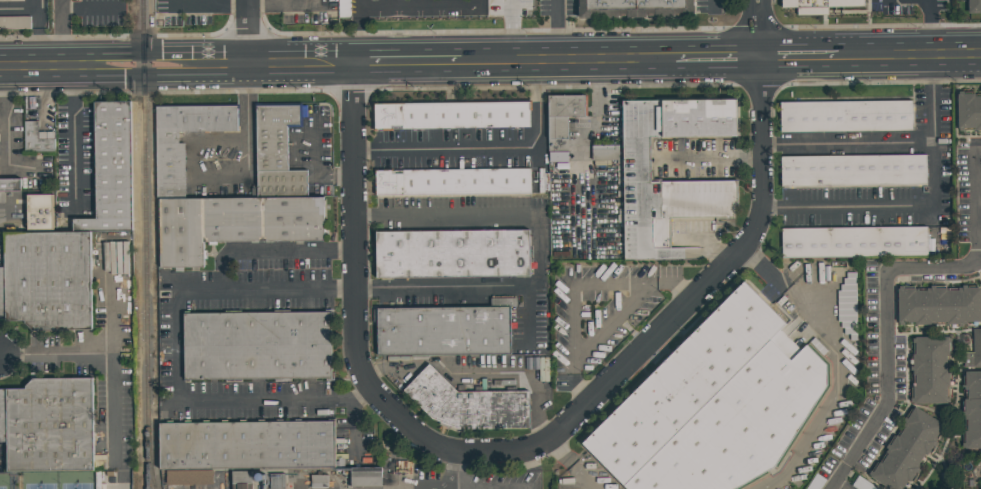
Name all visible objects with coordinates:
building: (11, 0)
road: (204, 2)
road: (421, 3)
road: (512, 3)
building: (818, 6)
building: (973, 6)
road: (434, 7)
building: (635, 7)
road: (89, 9)
building: (343, 9)
building: (15, 22)
road: (931, 27)
road: (757, 29)
road: (556, 30)
road: (247, 32)
road: (62, 33)
railway: (144, 33)
road: (37, 34)
road: (512, 34)
road: (923, 55)
road: (812, 57)
road: (649, 59)
road: (445, 61)
road: (174, 65)
building: (968, 113)
building: (452, 114)
building: (845, 117)
building: (562, 123)
road: (9, 130)
road: (935, 130)
building: (276, 135)
building: (37, 137)
road: (73, 139)
road: (848, 143)
road: (486, 148)
building: (605, 152)
road: (714, 159)
building: (635, 162)
building: (113, 169)
building: (172, 170)
building: (852, 171)
road: (232, 177)
building: (453, 181)
building: (283, 183)
building: (11, 184)
road: (850, 204)
building: (43, 210)
building: (234, 223)
road: (708, 239)
building: (852, 242)
road: (271, 250)
road: (536, 250)
building: (452, 253)
road: (353, 270)
railway: (148, 277)
building: (50, 280)
road: (675, 284)
building: (3, 293)
building: (938, 307)
road: (573, 308)
road: (674, 319)
road: (886, 325)
building: (444, 331)
building: (260, 345)
building: (977, 347)
road: (179, 353)
road: (113, 363)
road: (838, 364)
road: (477, 372)
building: (929, 372)
building: (685, 383)
parking lot: (267, 401)
building: (469, 404)
building: (972, 412)
building: (3, 416)
road: (958, 416)
building: (51, 425)
building: (742, 425)
building: (248, 445)
building: (907, 450)
road: (570, 461)
road: (457, 462)
railway: (153, 463)
road: (947, 473)
building: (366, 476)
road: (840, 476)
road: (455, 480)
park: (48, 481)
building: (318, 481)
road: (449, 481)
building: (816, 483)
building: (863, 484)

